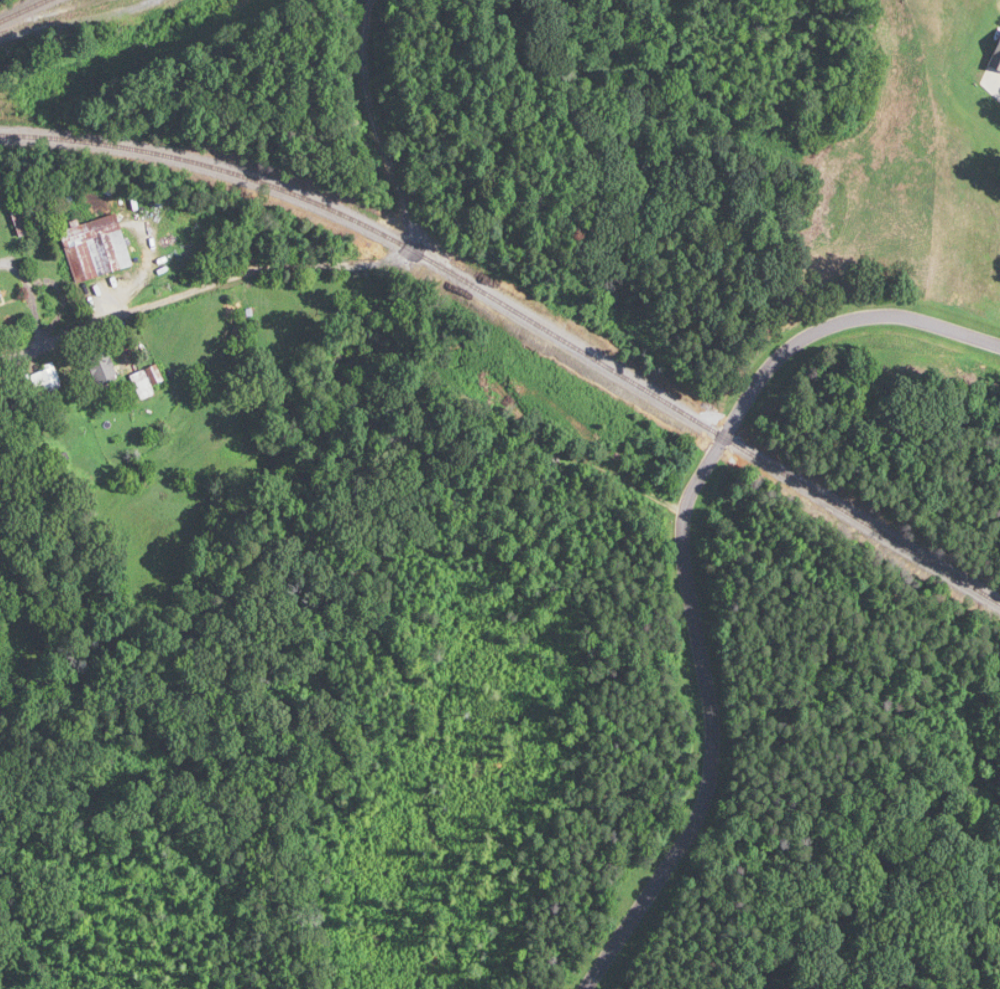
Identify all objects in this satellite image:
railway: (22, 10)
railway: (61, 17)
road: (991, 83)
building: (21, 219)
building: (96, 248)
road: (403, 252)
railway: (522, 313)
road: (835, 323)
road: (73, 334)
building: (102, 367)
building: (48, 378)
building: (147, 381)
road: (712, 727)

